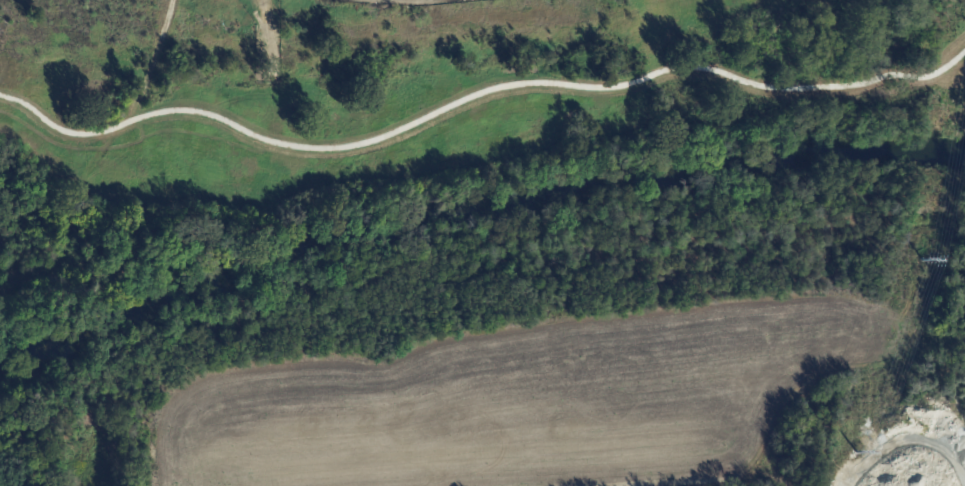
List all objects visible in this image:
power tower: (927, 238)
power tower: (857, 444)

